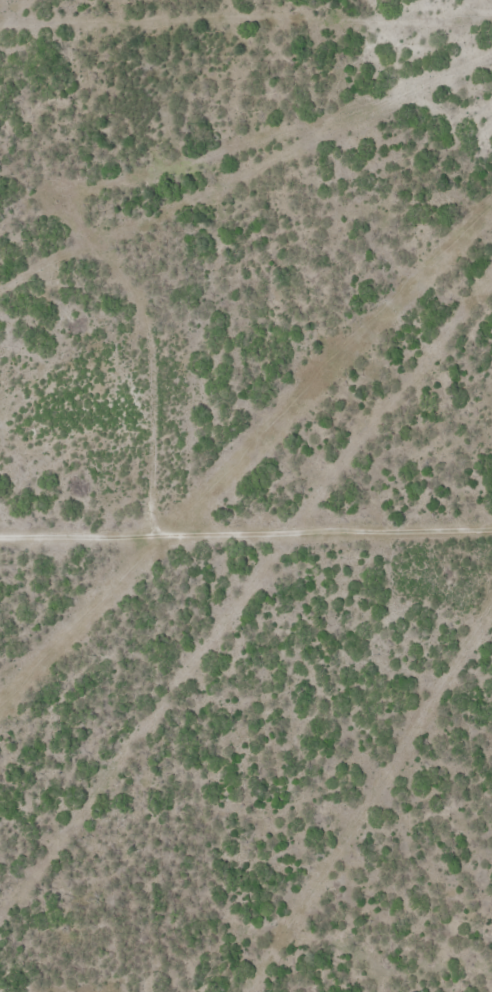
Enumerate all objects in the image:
road: (246, 524)

